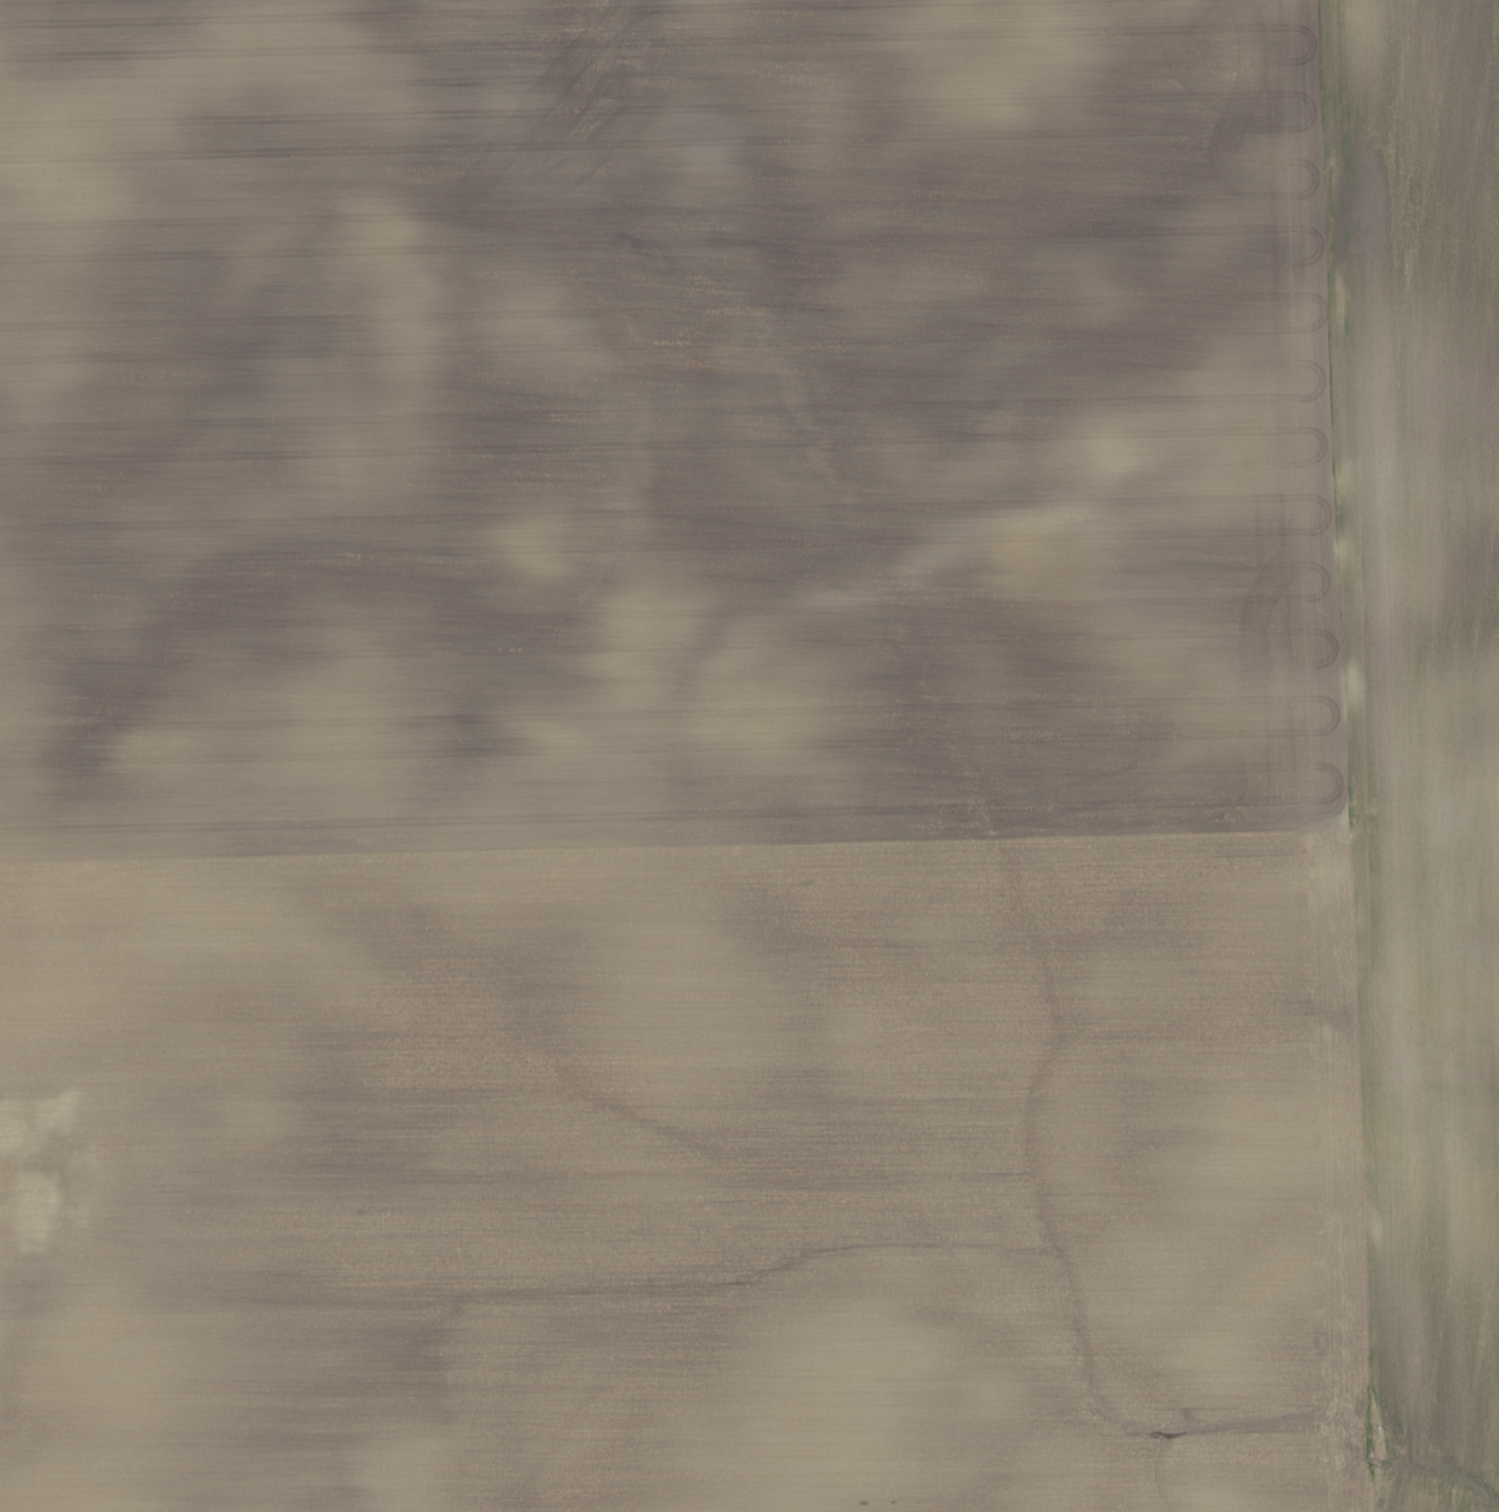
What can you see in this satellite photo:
crop: (749, 756)

